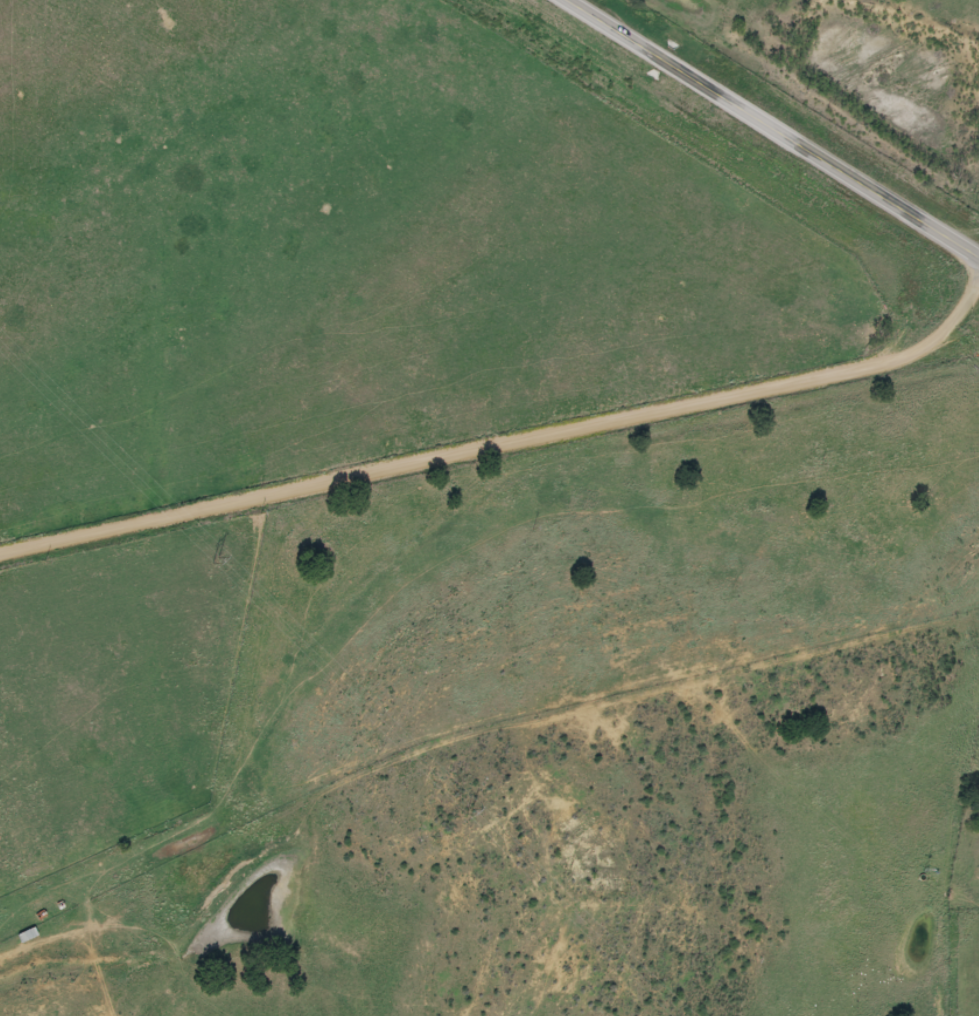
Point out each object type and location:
road: (773, 130)
road: (508, 465)
power tower: (240, 563)
power tower: (487, 813)
road: (76, 979)

